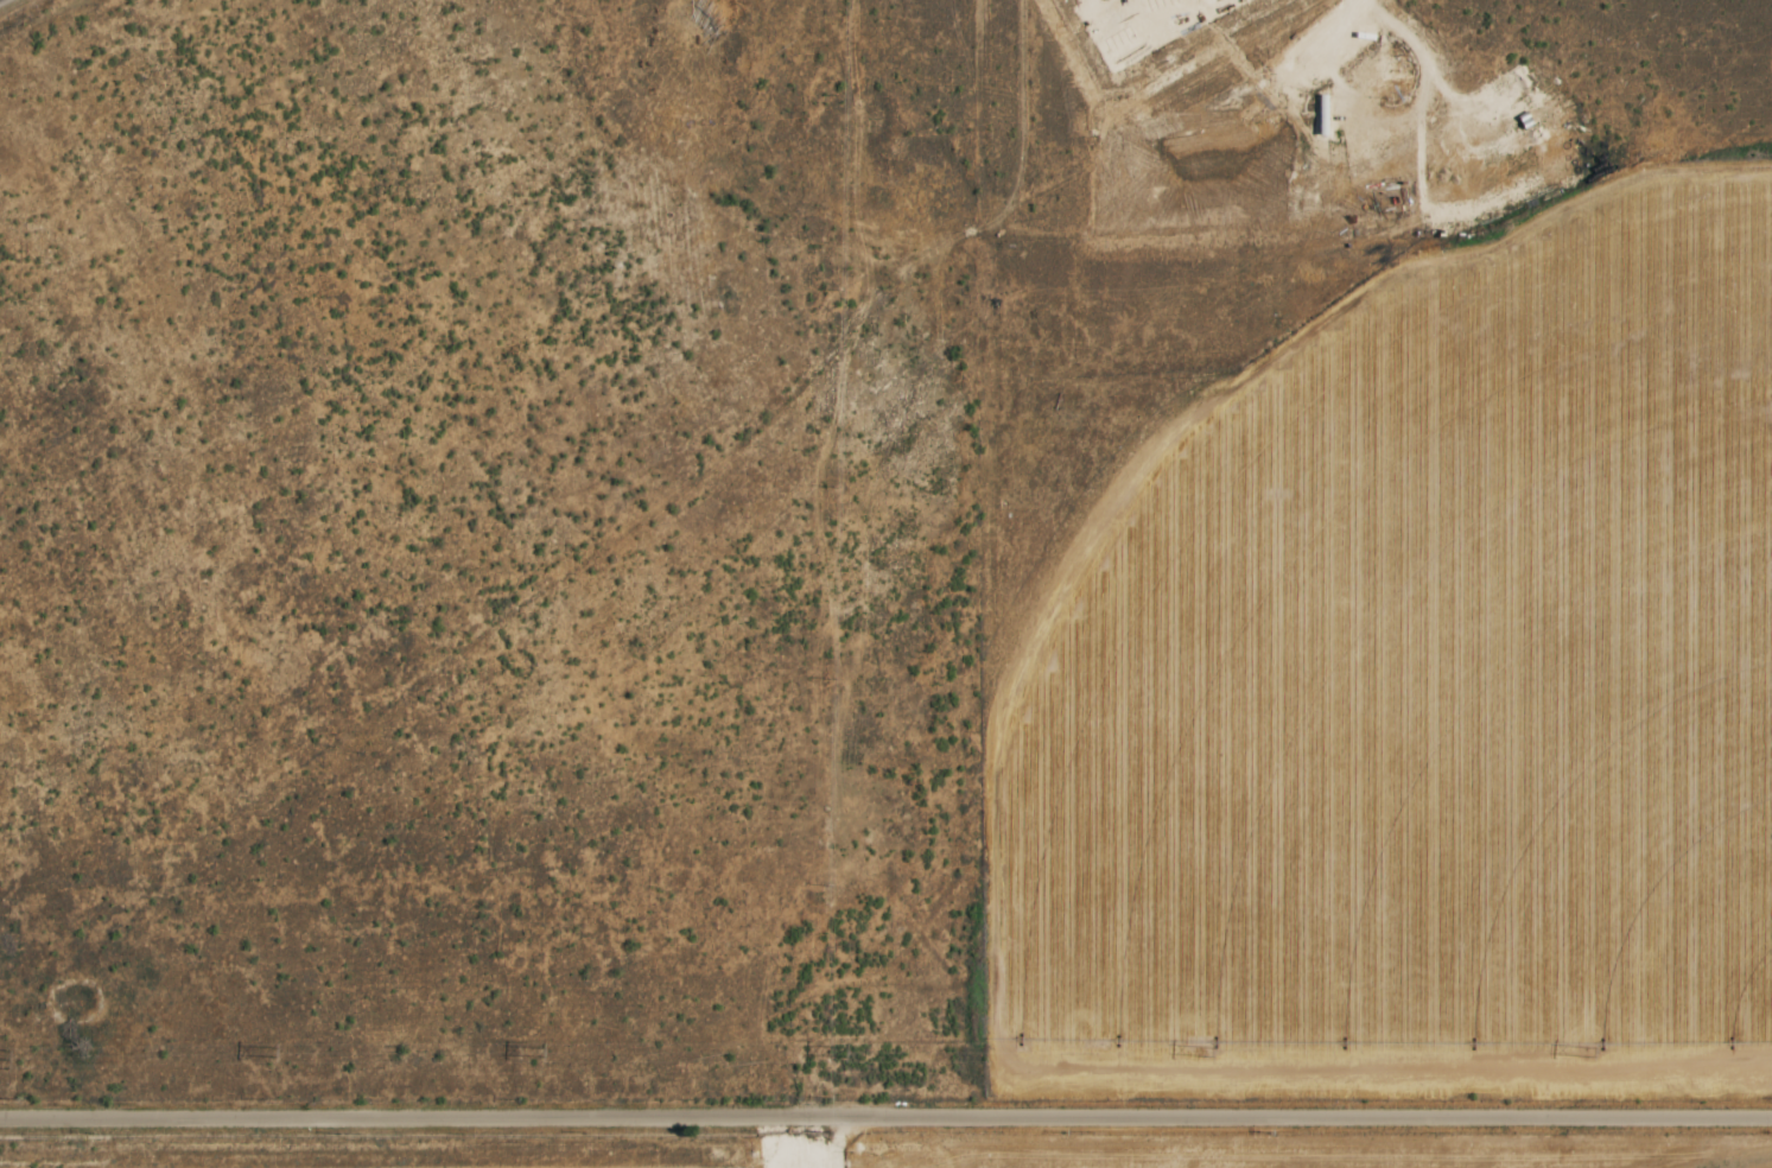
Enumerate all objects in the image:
power tower: (1207, 1050)
power tower: (1584, 1050)
power tower: (839, 1052)
power tower: (272, 1053)
power tower: (539, 1053)
power tower: (6, 1059)
road: (885, 1115)
road: (838, 1141)

